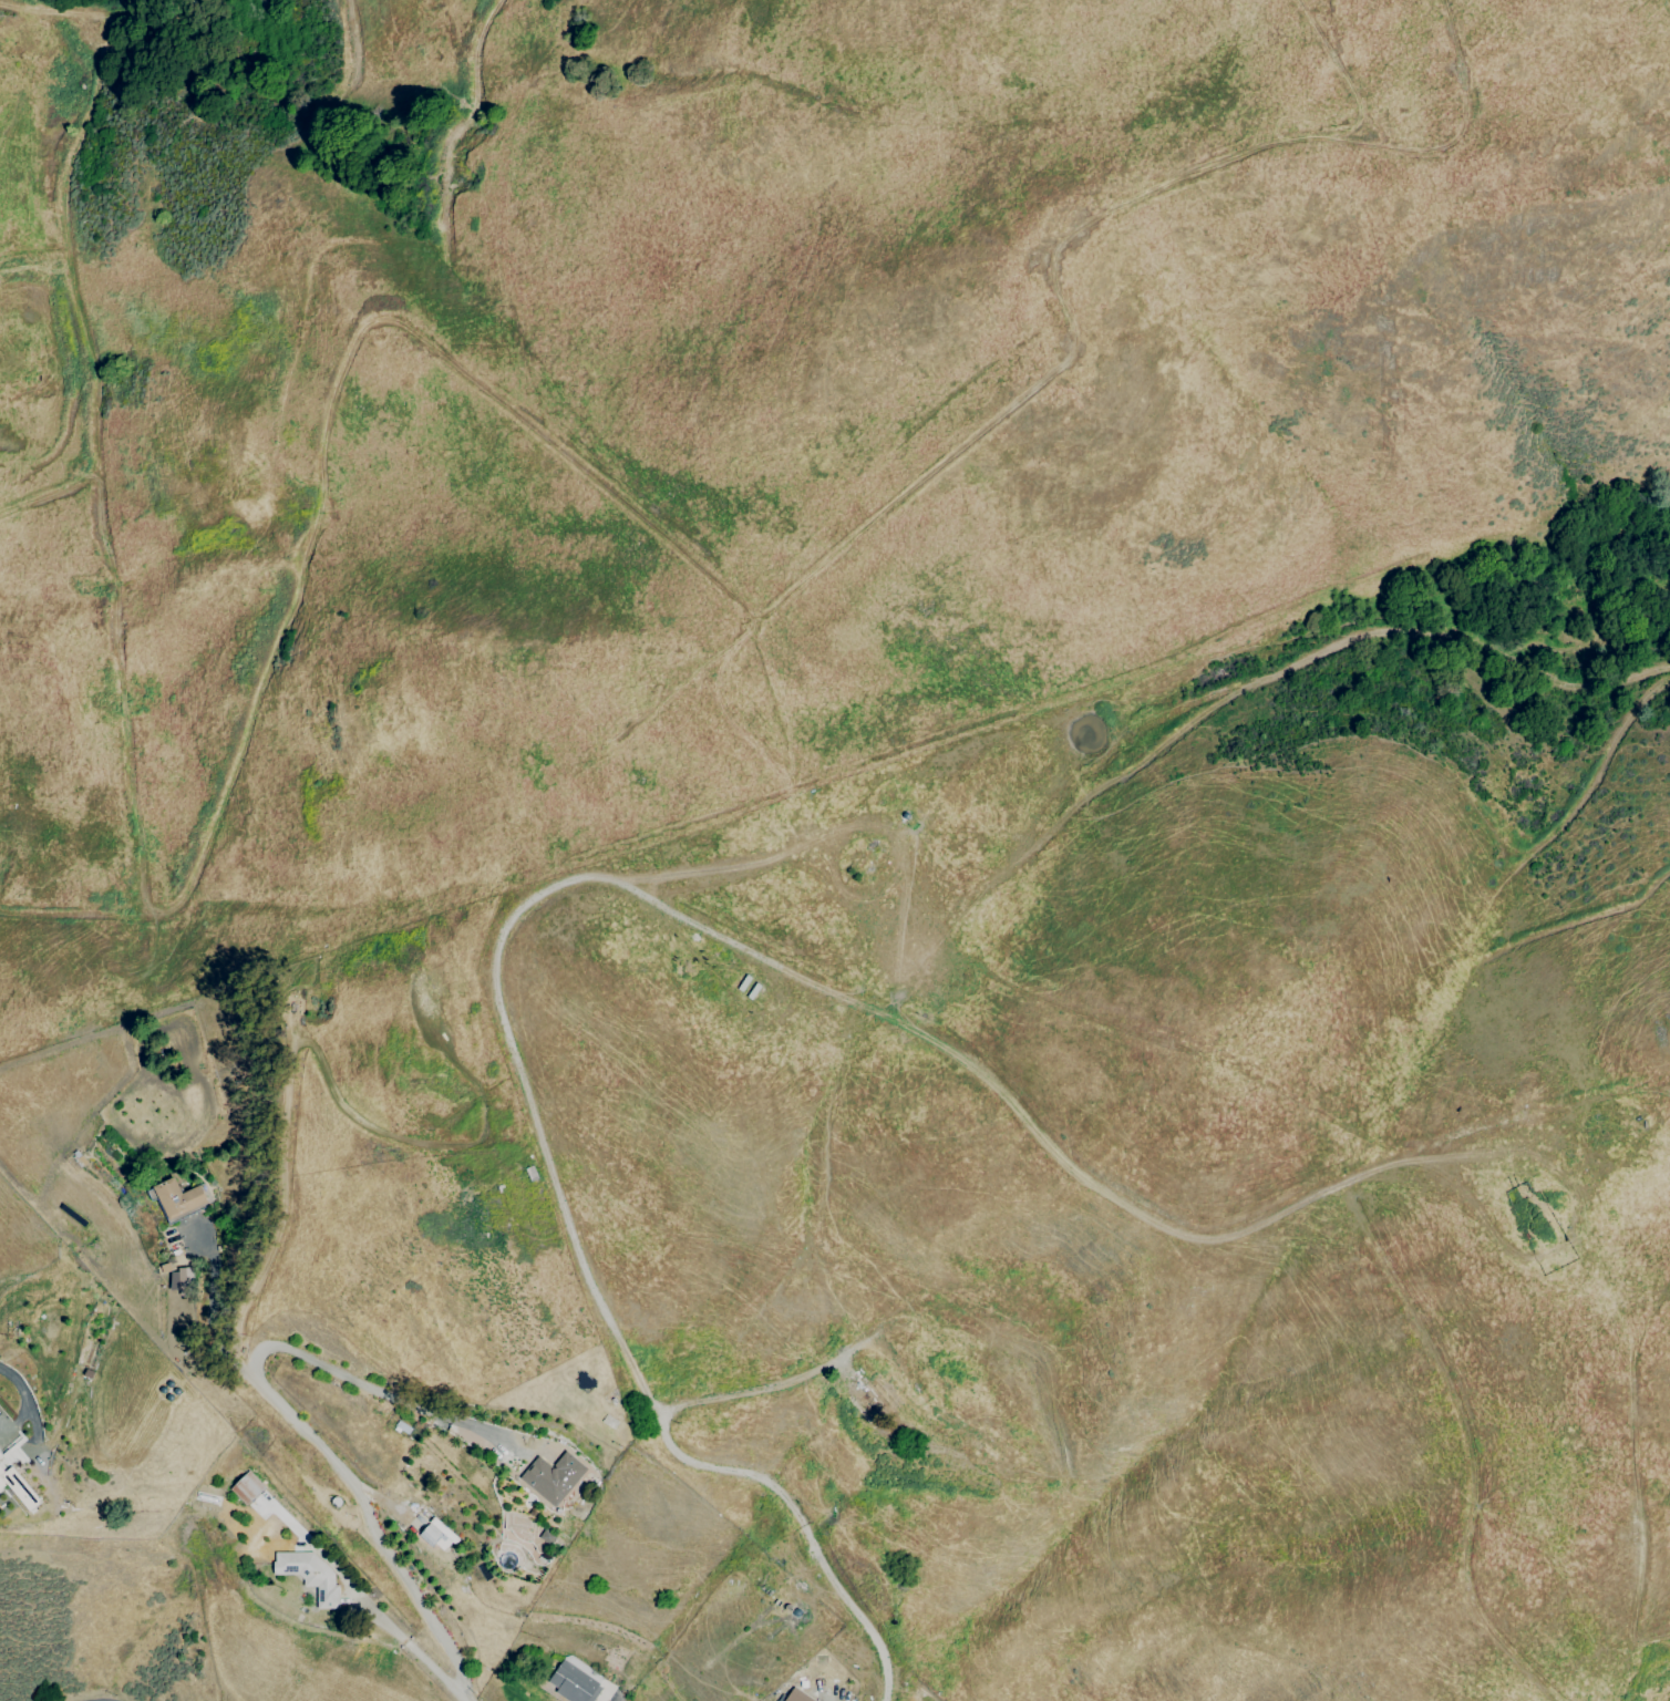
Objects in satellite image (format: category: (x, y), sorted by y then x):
road: (532, 1109)
building: (175, 1198)
road: (1228, 1235)
building: (179, 1279)
road: (210, 1306)
road: (17, 1383)
road: (753, 1393)
building: (877, 1396)
road: (288, 1413)
building: (3, 1471)
building: (551, 1476)
building: (245, 1487)
building: (22, 1497)
building: (432, 1532)
building: (546, 1536)
building: (308, 1575)
road: (417, 1650)
building: (585, 1669)
building: (571, 1683)
building: (795, 1695)

